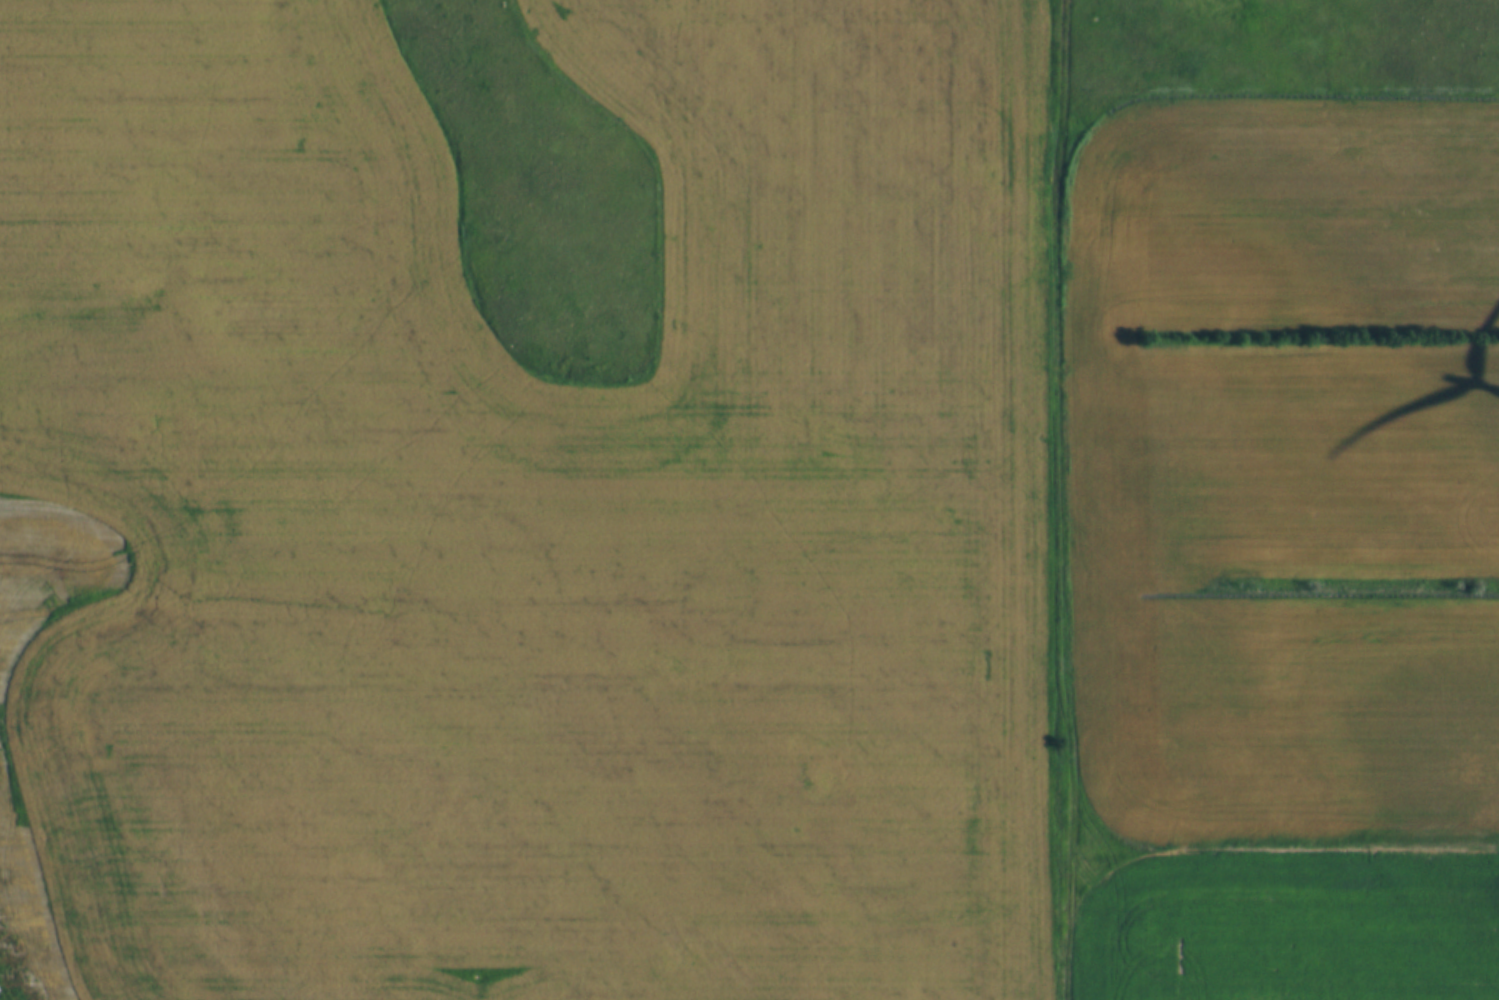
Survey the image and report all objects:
road: (1065, 44)

